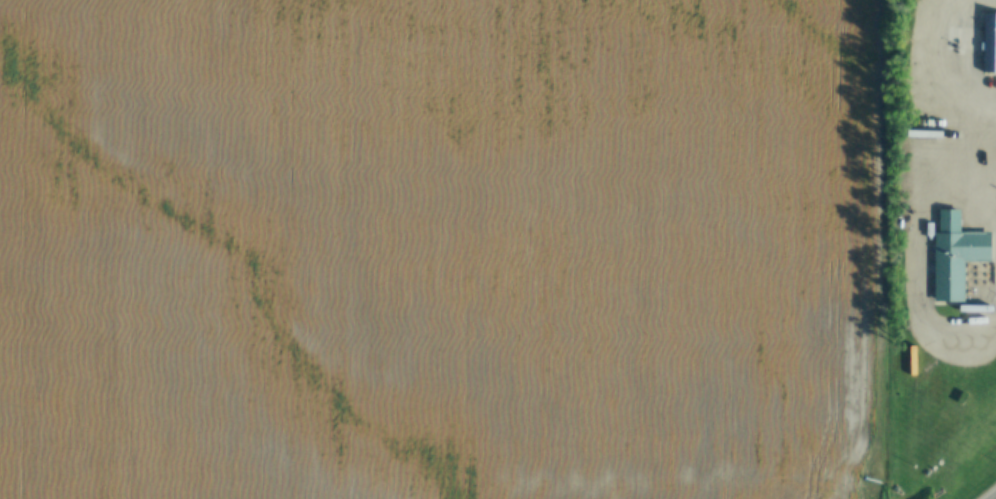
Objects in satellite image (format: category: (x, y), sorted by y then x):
building: (990, 46)
building: (957, 257)

